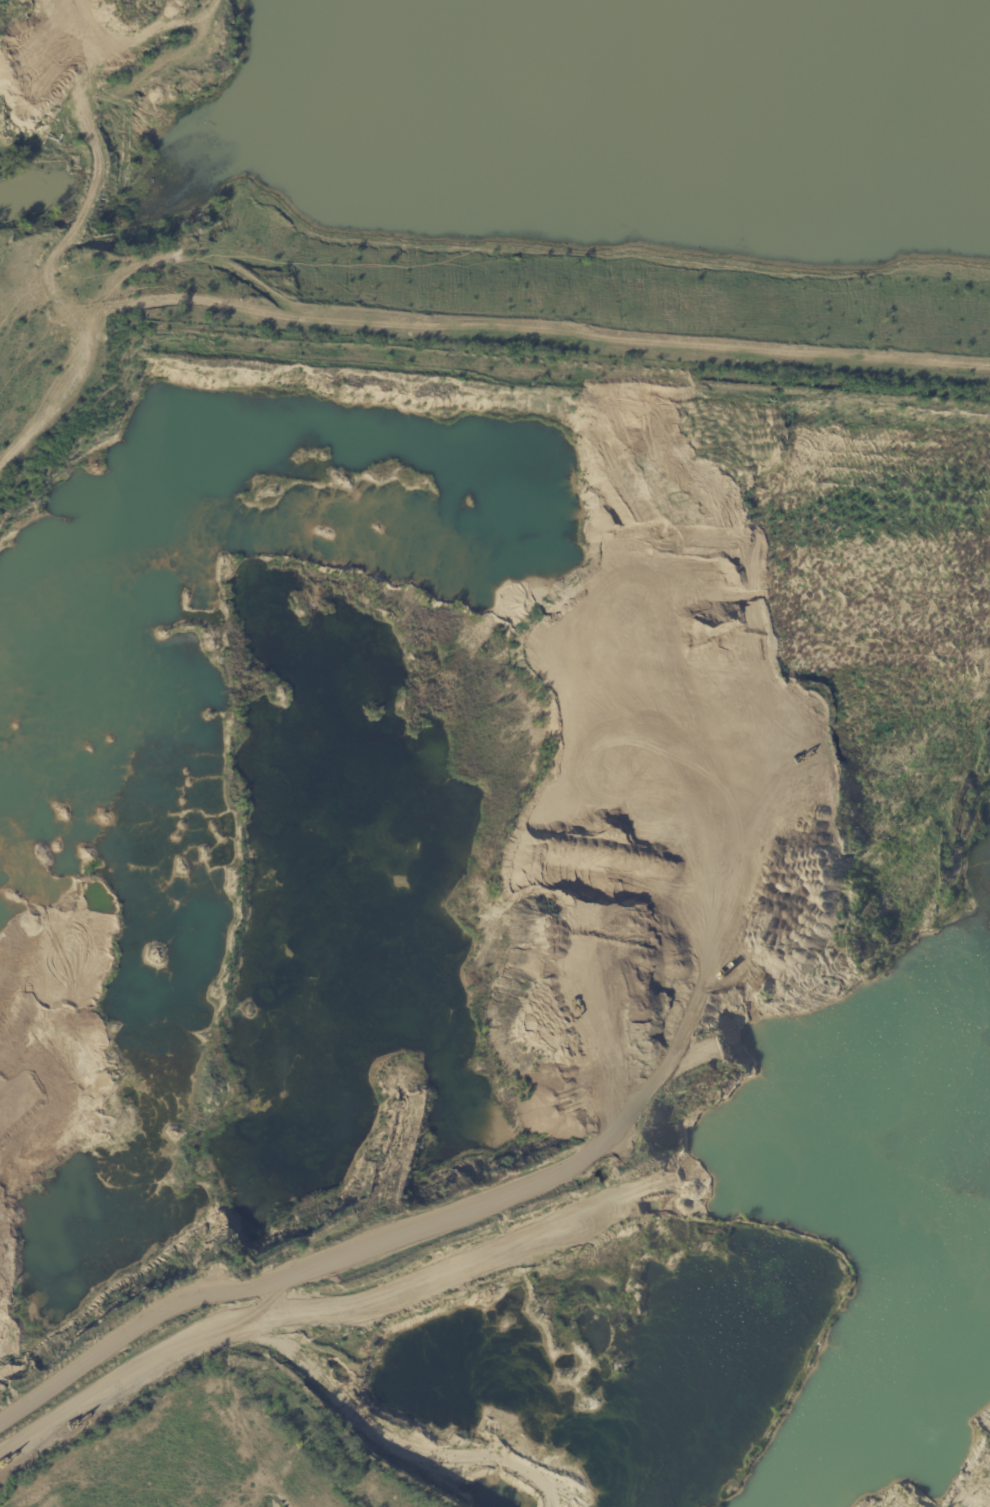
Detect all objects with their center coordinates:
quarry: (498, 175)
road: (451, 330)
road: (593, 761)
road: (166, 1002)
road: (285, 1278)
road: (148, 1366)

